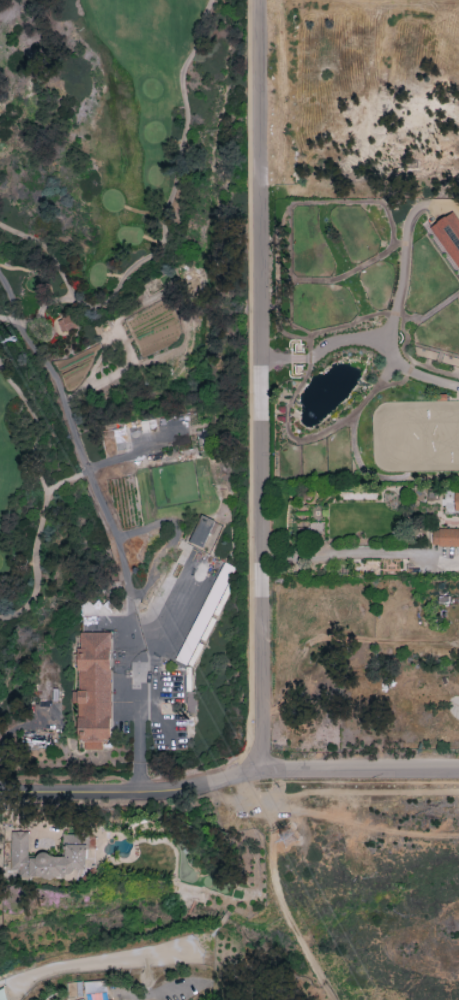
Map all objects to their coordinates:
building: (448, 235)
road: (403, 253)
building: (67, 323)
road: (370, 339)
road: (264, 386)
road: (139, 452)
road: (83, 455)
road: (66, 479)
road: (45, 496)
building: (456, 501)
building: (203, 530)
building: (445, 537)
road: (361, 554)
road: (135, 671)
building: (93, 689)
power tower: (189, 722)
road: (381, 745)
road: (358, 767)
road: (252, 773)
road: (123, 793)
power tower: (287, 837)
building: (48, 857)

